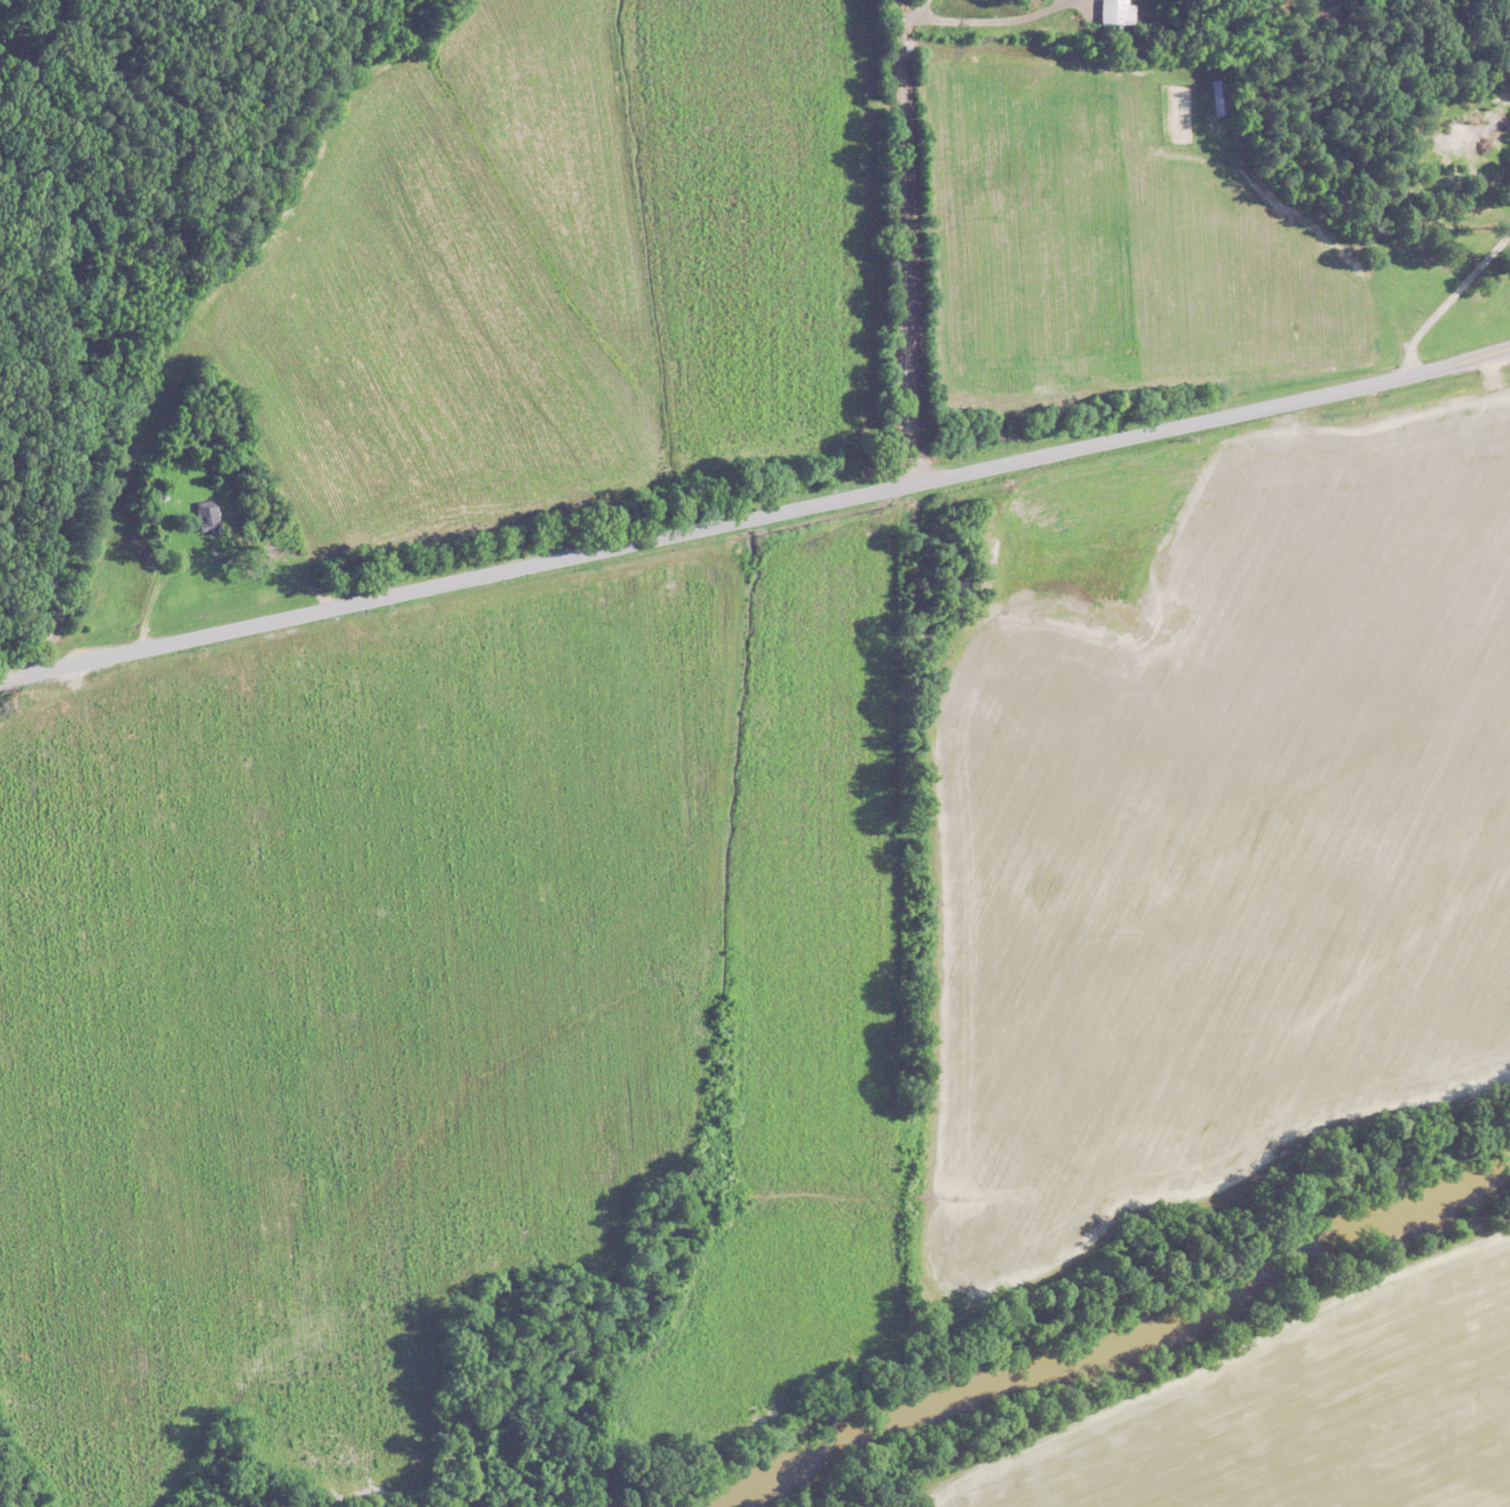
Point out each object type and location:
road: (918, 10)
building: (1120, 11)
road: (980, 21)
building: (1221, 105)
road: (904, 241)
road: (1450, 298)
road: (765, 514)
building: (210, 516)
road: (10, 676)
river: (1115, 1343)

